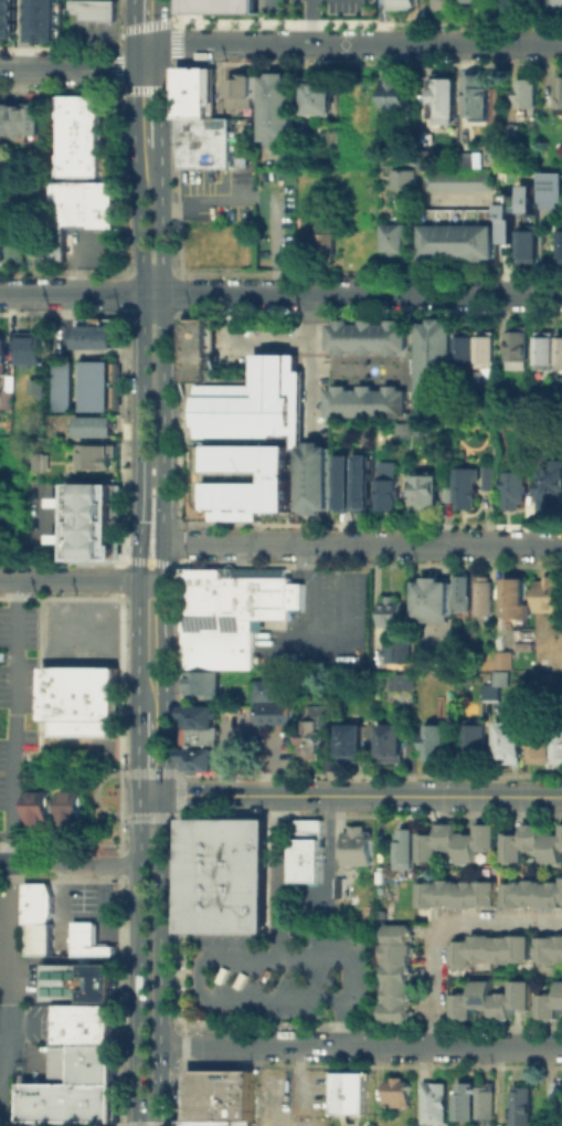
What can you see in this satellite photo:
building: (474, 1)
building: (401, 3)
building: (269, 4)
building: (447, 6)
building: (556, 6)
building: (511, 7)
parking lot: (329, 8)
building: (220, 9)
building: (97, 13)
building: (8, 18)
building: (43, 20)
road: (161, 21)
road: (134, 22)
road: (307, 22)
road: (23, 34)
road: (147, 44)
road: (361, 44)
road: (134, 56)
road: (161, 56)
road: (66, 70)
road: (147, 70)
building: (560, 94)
building: (199, 97)
building: (400, 97)
building: (243, 98)
building: (531, 98)
building: (320, 101)
building: (480, 101)
building: (446, 105)
road: (161, 107)
building: (21, 122)
building: (279, 124)
building: (89, 138)
building: (516, 141)
building: (208, 148)
building: (422, 160)
building: (465, 161)
building: (457, 179)
building: (406, 181)
building: (554, 192)
building: (92, 206)
parking lot: (251, 210)
building: (516, 211)
building: (2, 241)
building: (20, 241)
building: (395, 242)
building: (457, 242)
building: (559, 242)
building: (328, 245)
building: (46, 248)
building: (529, 249)
parking lot: (93, 250)
road: (280, 294)
road: (312, 324)
building: (92, 336)
building: (367, 337)
road: (162, 343)
building: (522, 345)
building: (28, 347)
building: (468, 347)
building: (488, 348)
building: (550, 351)
building: (560, 352)
building: (4, 357)
building: (435, 365)
building: (61, 385)
building: (96, 385)
building: (41, 389)
road: (142, 389)
road: (311, 397)
building: (531, 397)
building: (368, 400)
building: (11, 401)
building: (97, 427)
building: (243, 429)
building: (99, 456)
building: (42, 460)
road: (311, 476)
building: (316, 476)
building: (491, 477)
building: (344, 482)
building: (364, 482)
building: (554, 486)
building: (392, 487)
building: (473, 490)
building: (432, 492)
building: (520, 493)
building: (97, 525)
road: (311, 528)
road: (361, 544)
road: (81, 579)
building: (468, 593)
building: (551, 597)
building: (240, 598)
building: (488, 599)
building: (520, 600)
building: (439, 603)
building: (395, 613)
parking lot: (325, 624)
building: (220, 645)
building: (400, 650)
building: (508, 663)
road: (165, 667)
building: (548, 678)
building: (506, 680)
parking lot: (38, 681)
building: (404, 683)
building: (204, 686)
building: (268, 693)
building: (492, 693)
building: (79, 695)
building: (275, 717)
building: (202, 736)
building: (315, 740)
building: (478, 743)
building: (437, 745)
building: (353, 746)
building: (393, 746)
building: (512, 746)
building: (548, 748)
road: (138, 751)
road: (150, 771)
road: (95, 792)
traffic signals: (139, 793)
traffic signals: (163, 793)
road: (179, 793)
road: (350, 796)
building: (41, 808)
building: (71, 810)
road: (150, 815)
road: (161, 828)
road: (140, 829)
building: (450, 839)
building: (489, 840)
building: (534, 840)
building: (431, 850)
building: (516, 850)
building: (359, 851)
building: (469, 851)
road: (13, 852)
building: (405, 852)
building: (553, 852)
building: (309, 855)
road: (70, 864)
road: (283, 876)
building: (229, 881)
building: (344, 890)
building: (431, 895)
building: (449, 895)
building: (468, 895)
building: (488, 895)
building: (516, 896)
building: (534, 896)
building: (553, 896)
building: (42, 906)
road: (441, 925)
building: (89, 943)
building: (44, 945)
building: (484, 951)
building: (561, 951)
building: (502, 953)
building: (521, 953)
road: (160, 954)
building: (551, 954)
road: (140, 955)
road: (208, 957)
building: (465, 957)
building: (399, 977)
parking lot: (285, 978)
building: (81, 988)
building: (484, 998)
building: (522, 999)
building: (561, 999)
building: (465, 1009)
building: (503, 1009)
building: (551, 1011)
parking lot: (22, 1012)
road: (343, 1022)
building: (85, 1031)
road: (360, 1045)
building: (81, 1071)
road: (140, 1085)
road: (160, 1085)
building: (350, 1092)
building: (399, 1096)
building: (221, 1101)
building: (488, 1105)
building: (437, 1106)
building: (467, 1106)
building: (71, 1107)
building: (526, 1108)
building: (560, 1108)
road: (268, 1116)

